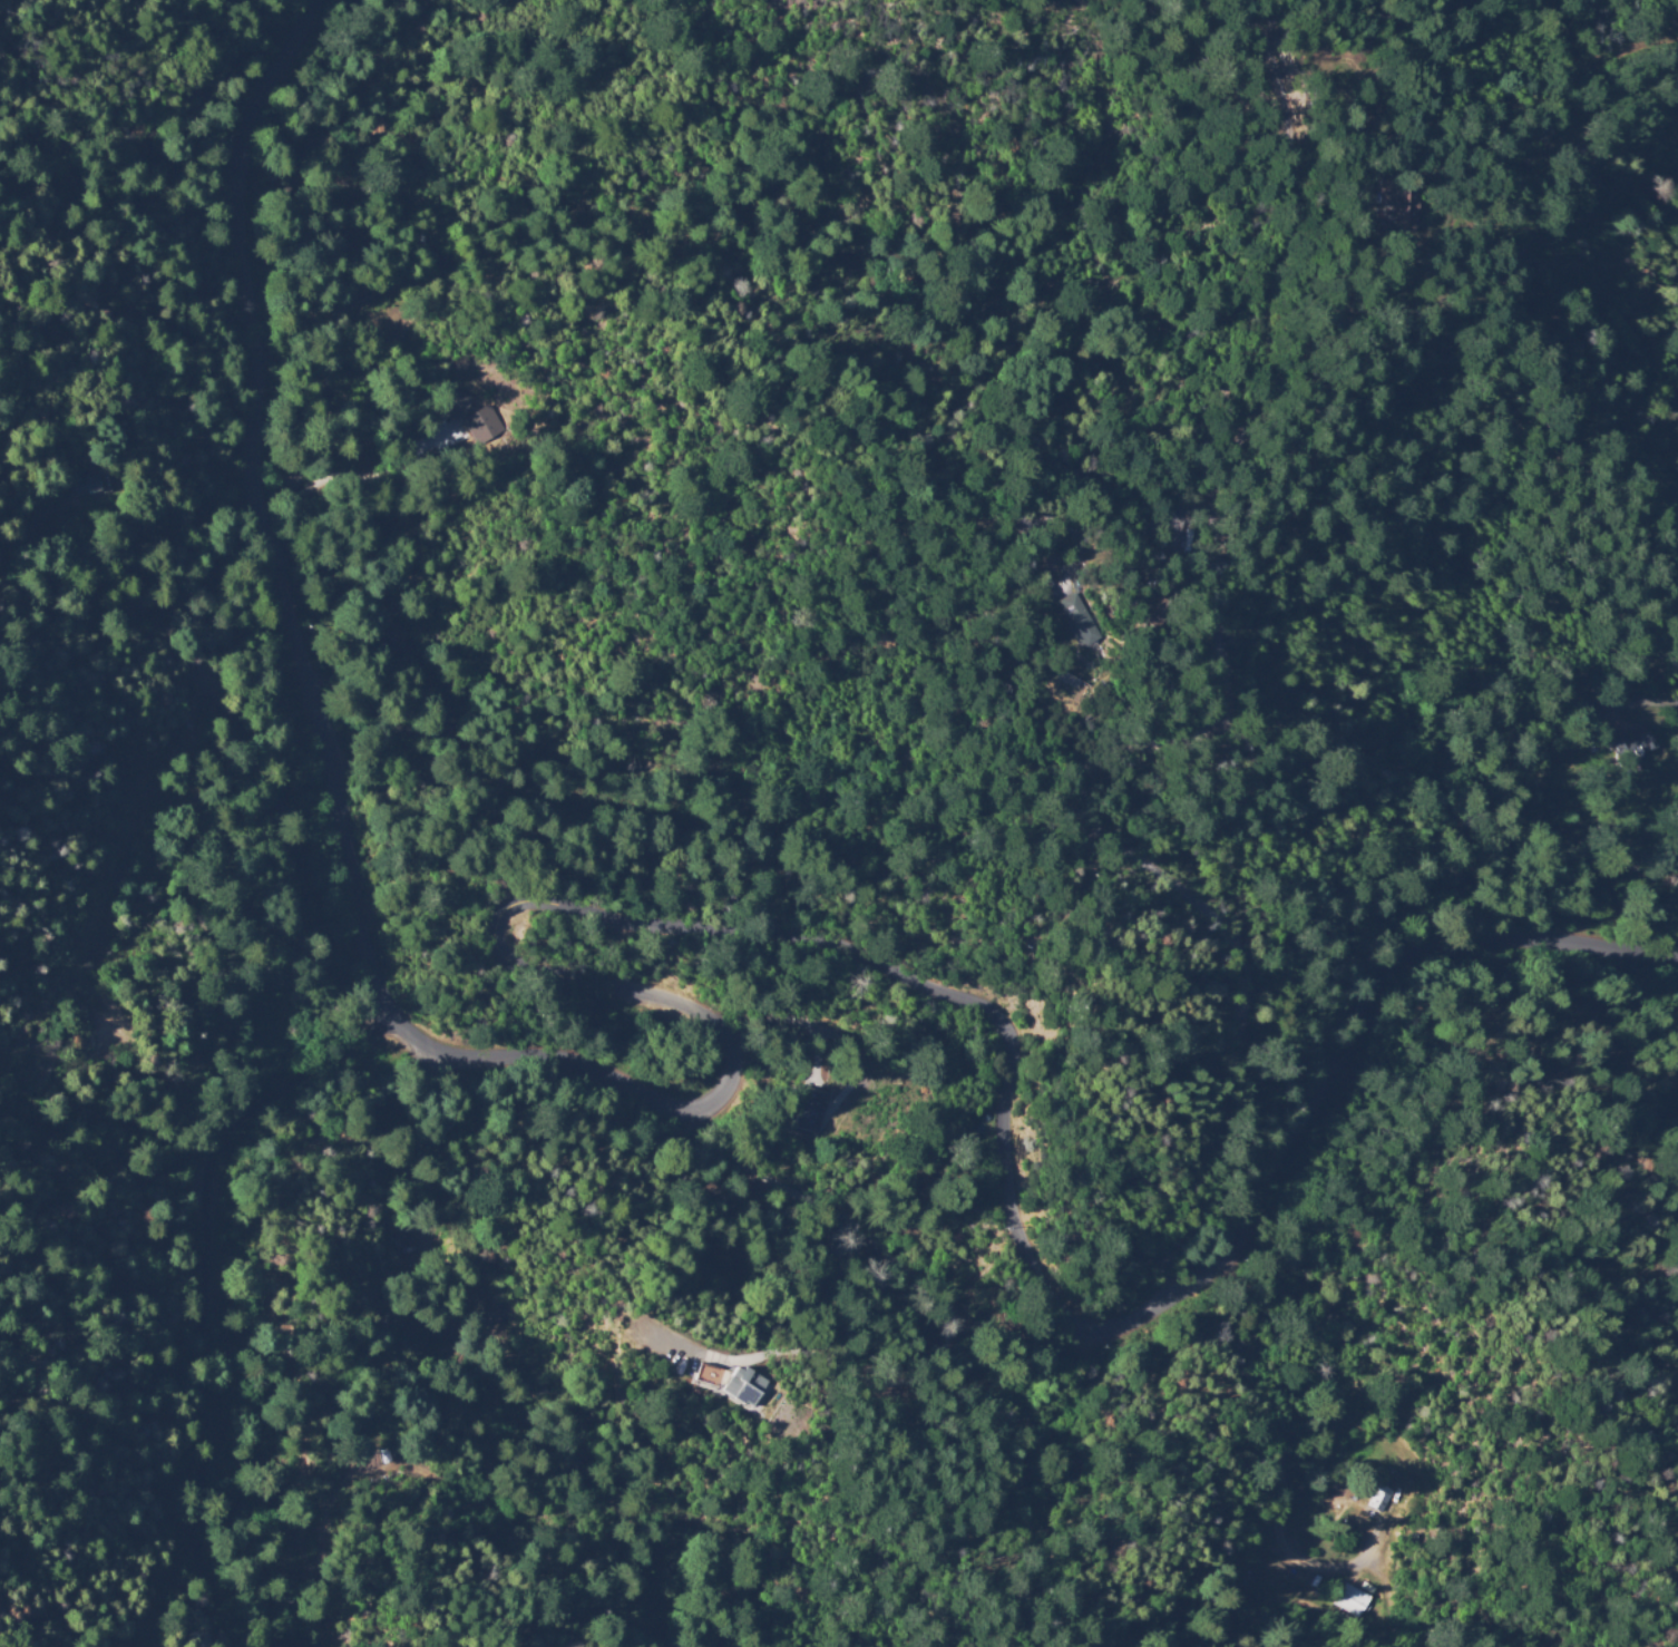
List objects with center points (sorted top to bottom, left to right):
building: (334, 186)
building: (1399, 205)
building: (482, 422)
building: (92, 486)
building: (1050, 563)
building: (1161, 614)
building: (1077, 621)
building: (1635, 748)
building: (1467, 852)
road: (542, 961)
road: (822, 1026)
building: (810, 1111)
building: (448, 1319)
building: (731, 1384)
building: (373, 1455)
building: (1379, 1498)
building: (1353, 1600)

